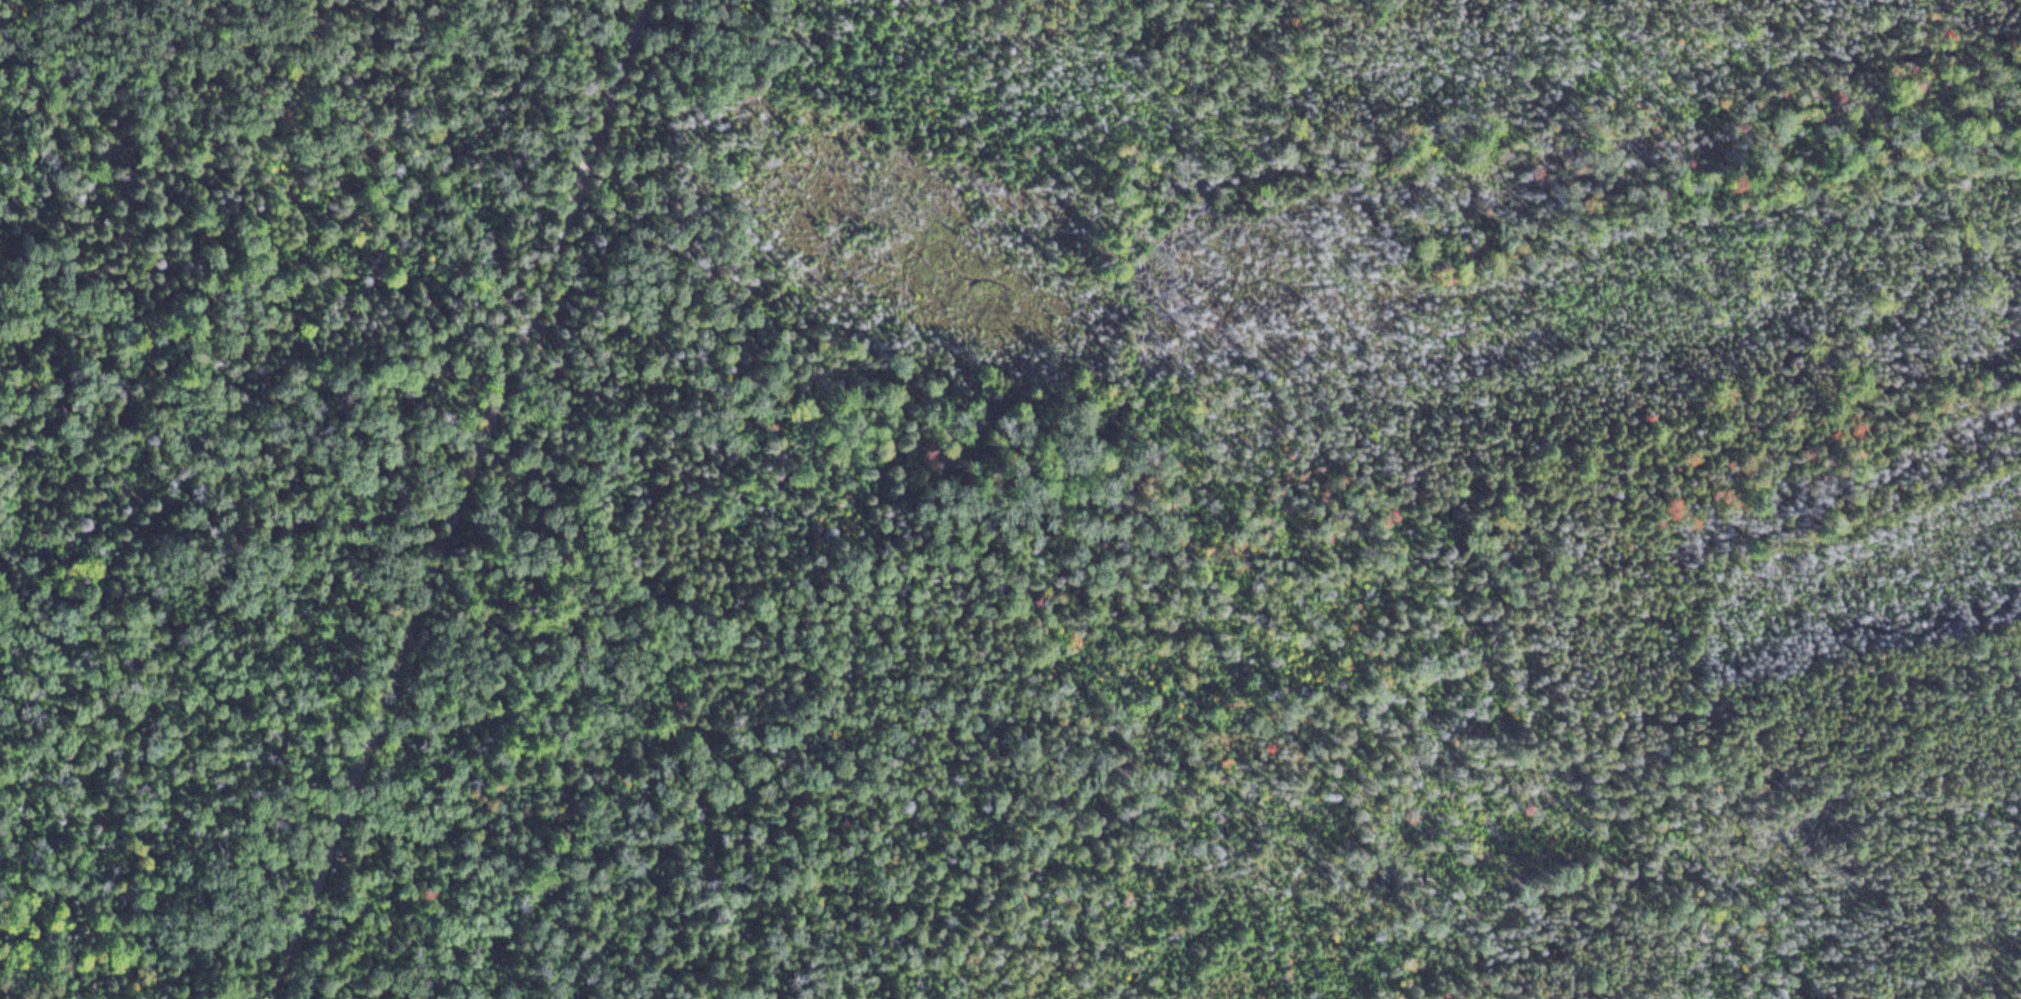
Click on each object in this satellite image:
road: (465, 499)

